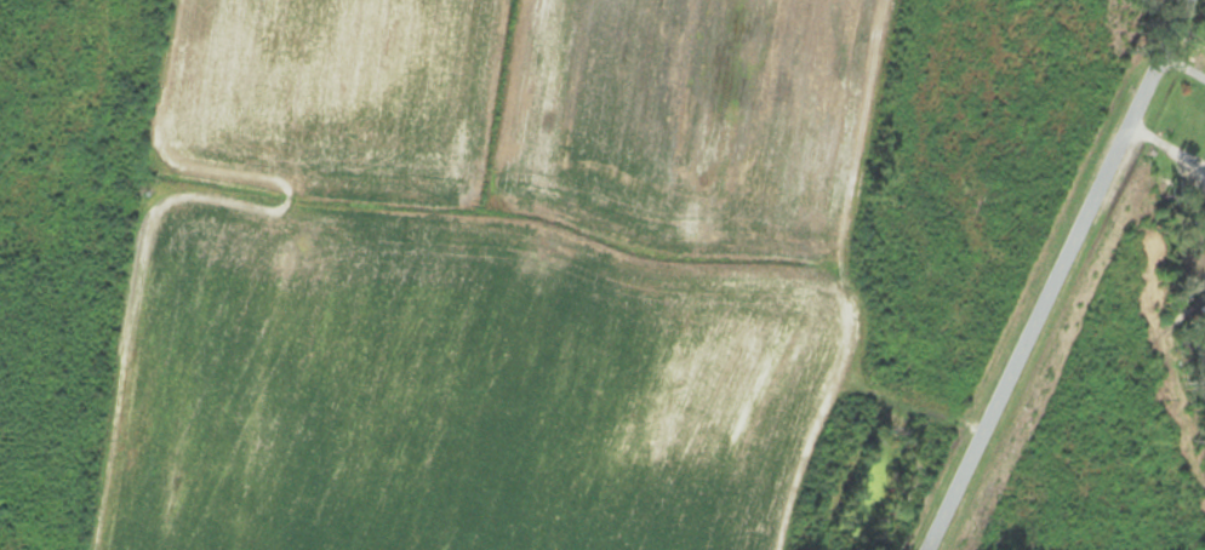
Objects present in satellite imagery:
road: (1044, 273)

